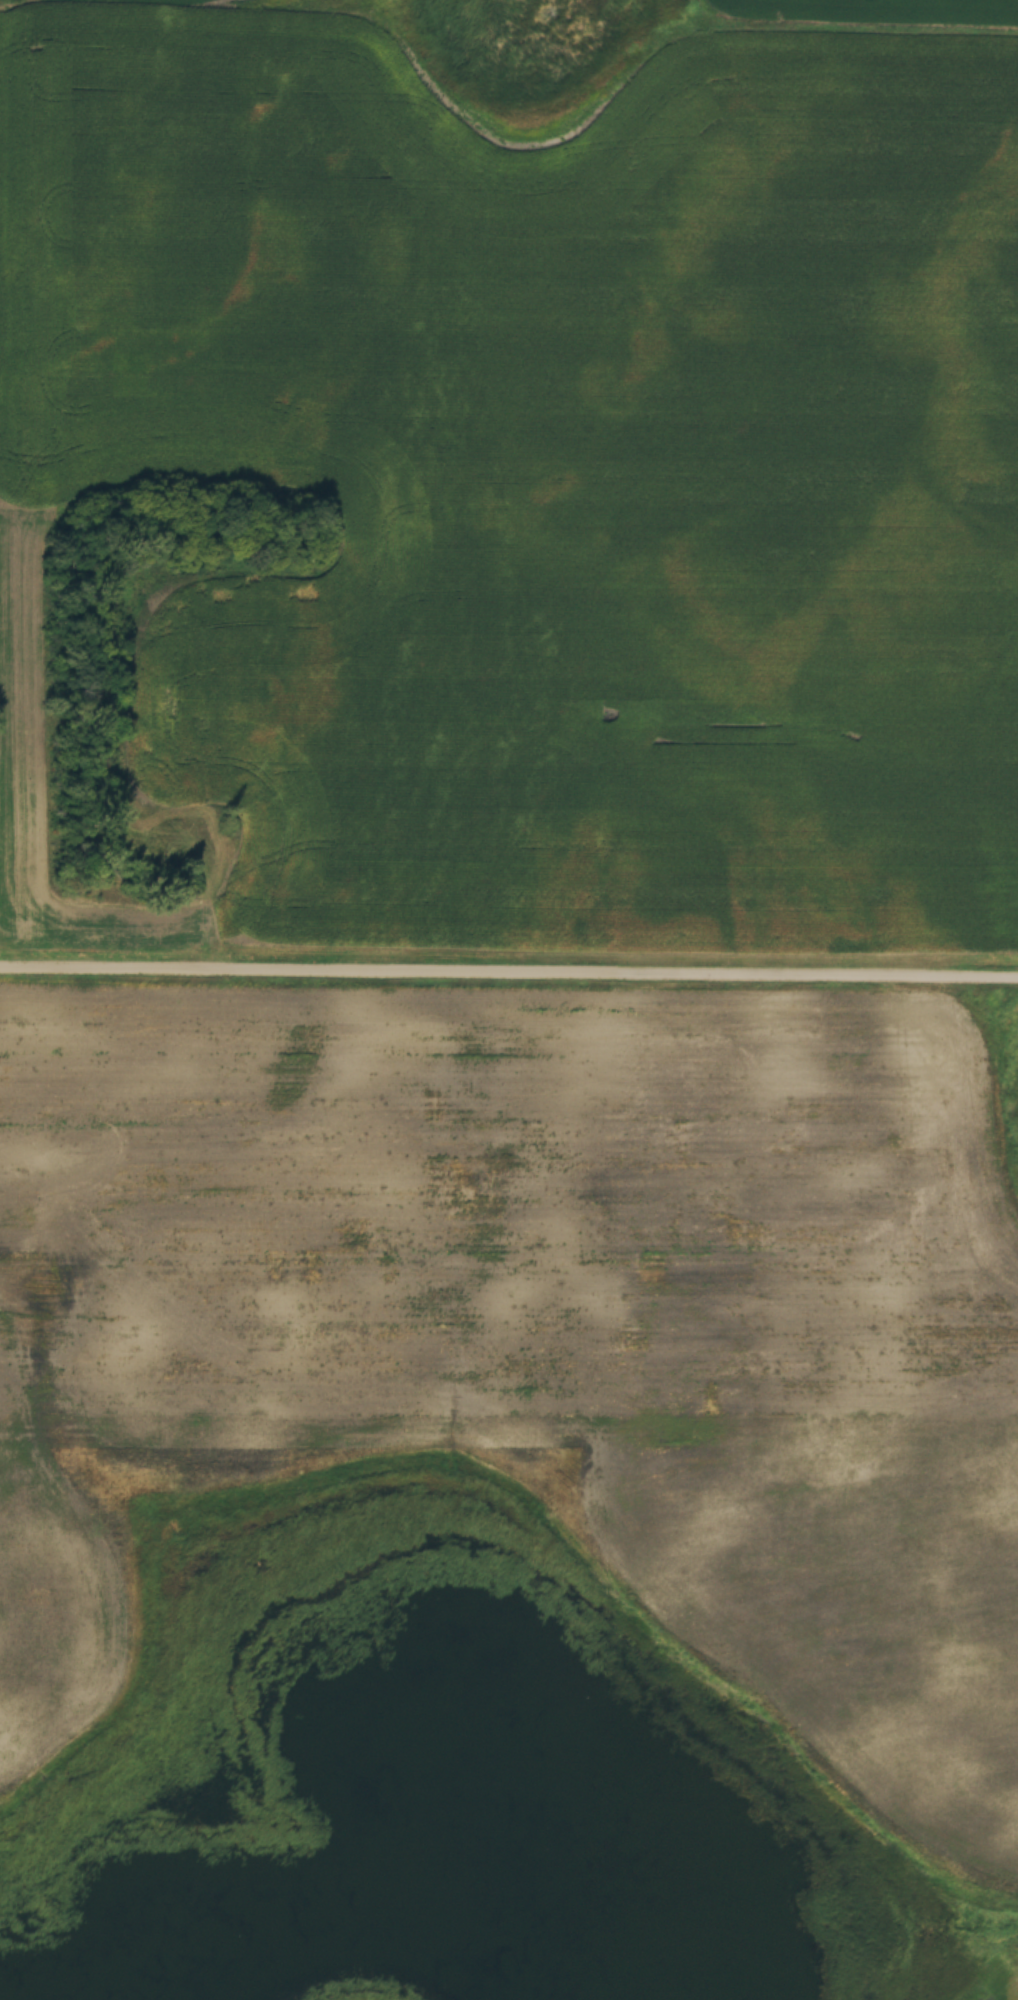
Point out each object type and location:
road: (509, 971)

